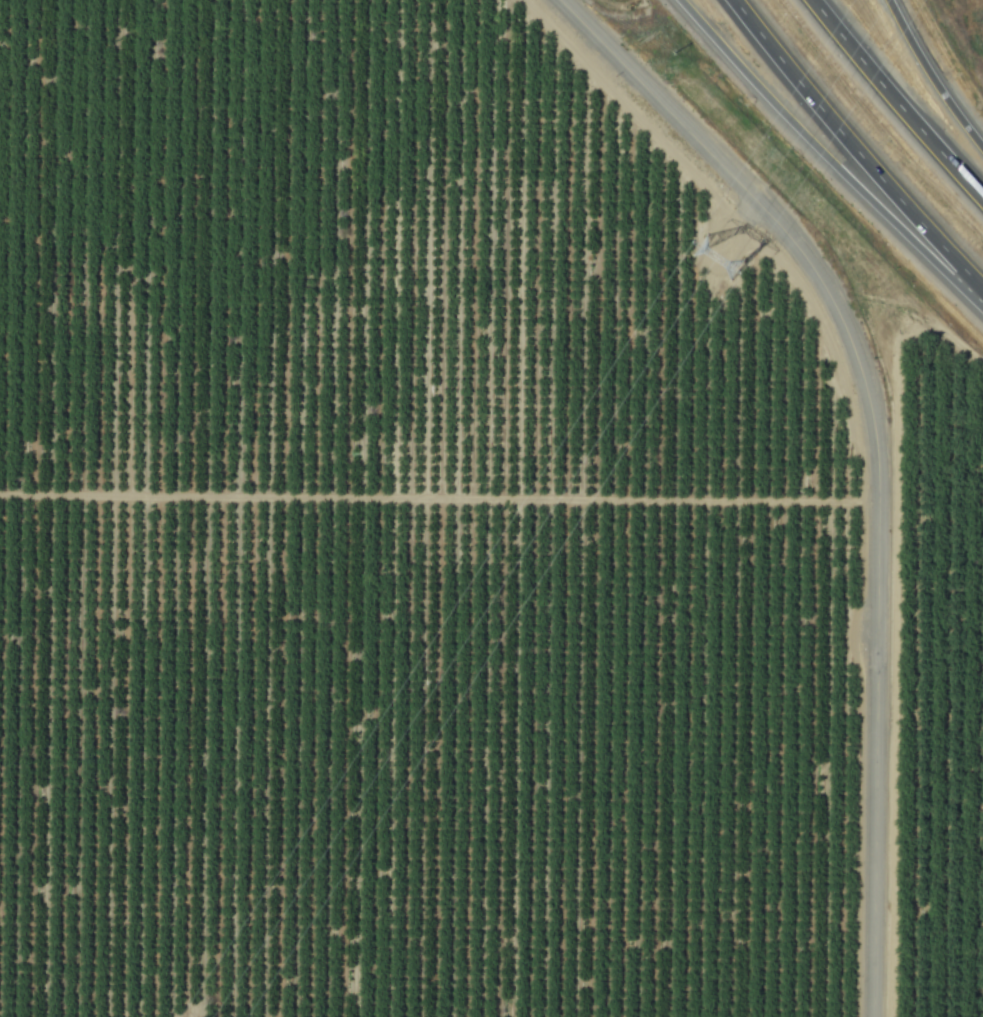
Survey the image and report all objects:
road: (938, 71)
road: (898, 97)
road: (857, 148)
road: (822, 156)
power tower: (733, 264)
road: (882, 450)

